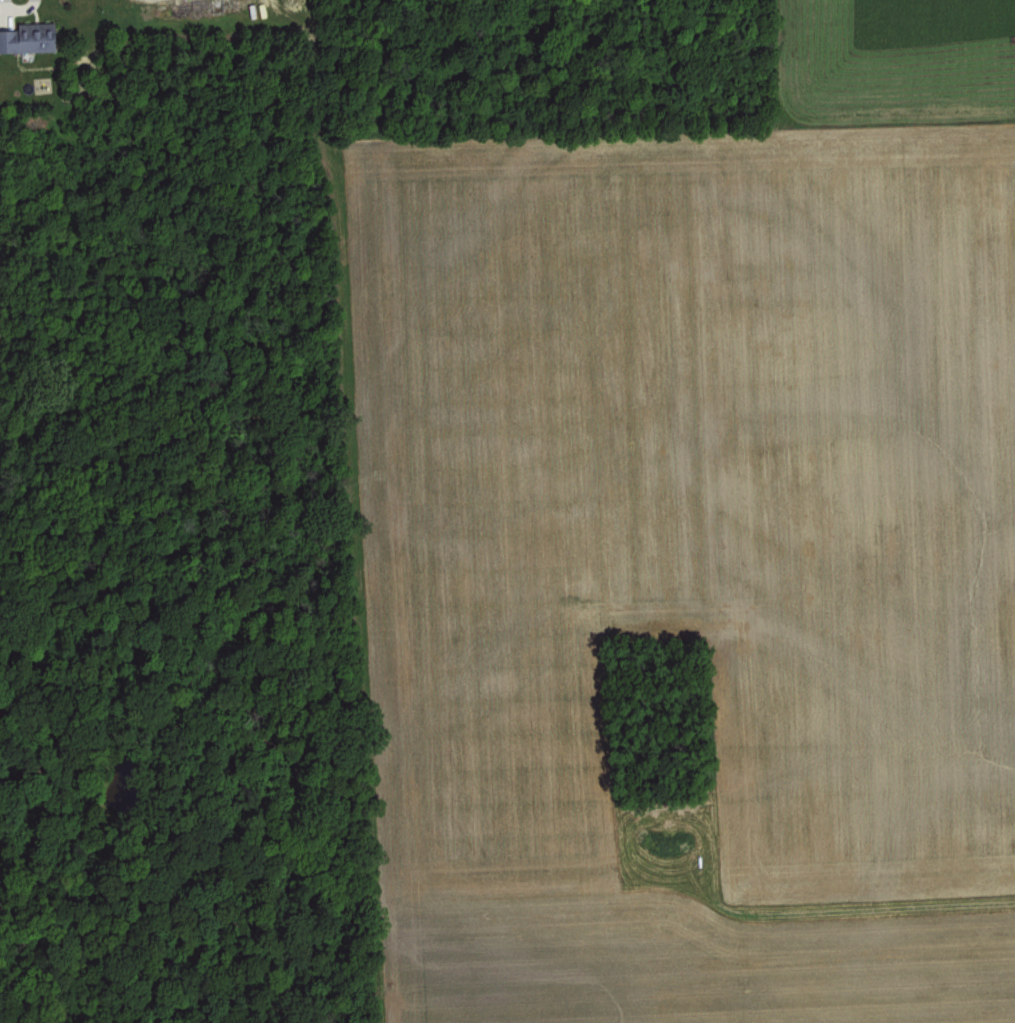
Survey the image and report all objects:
building: (28, 37)

